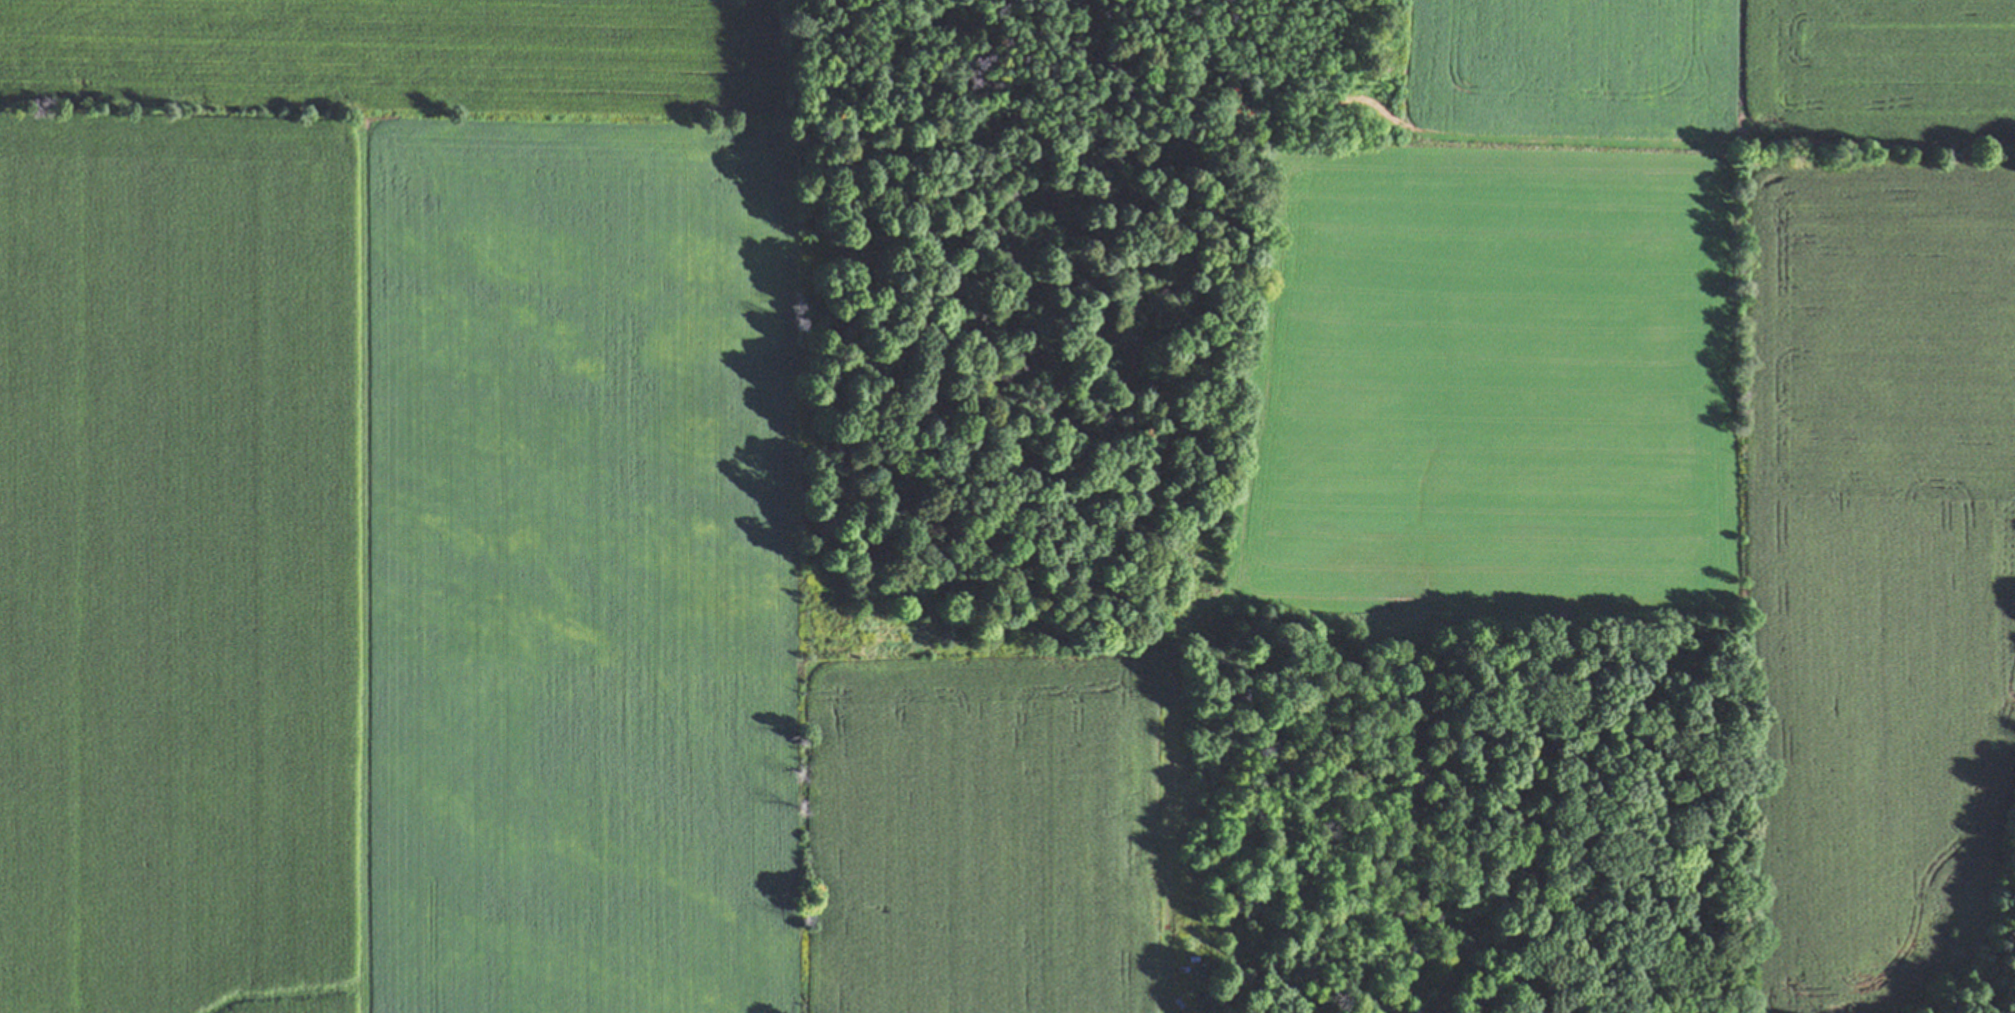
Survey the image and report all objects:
crop: (1680, 407)

